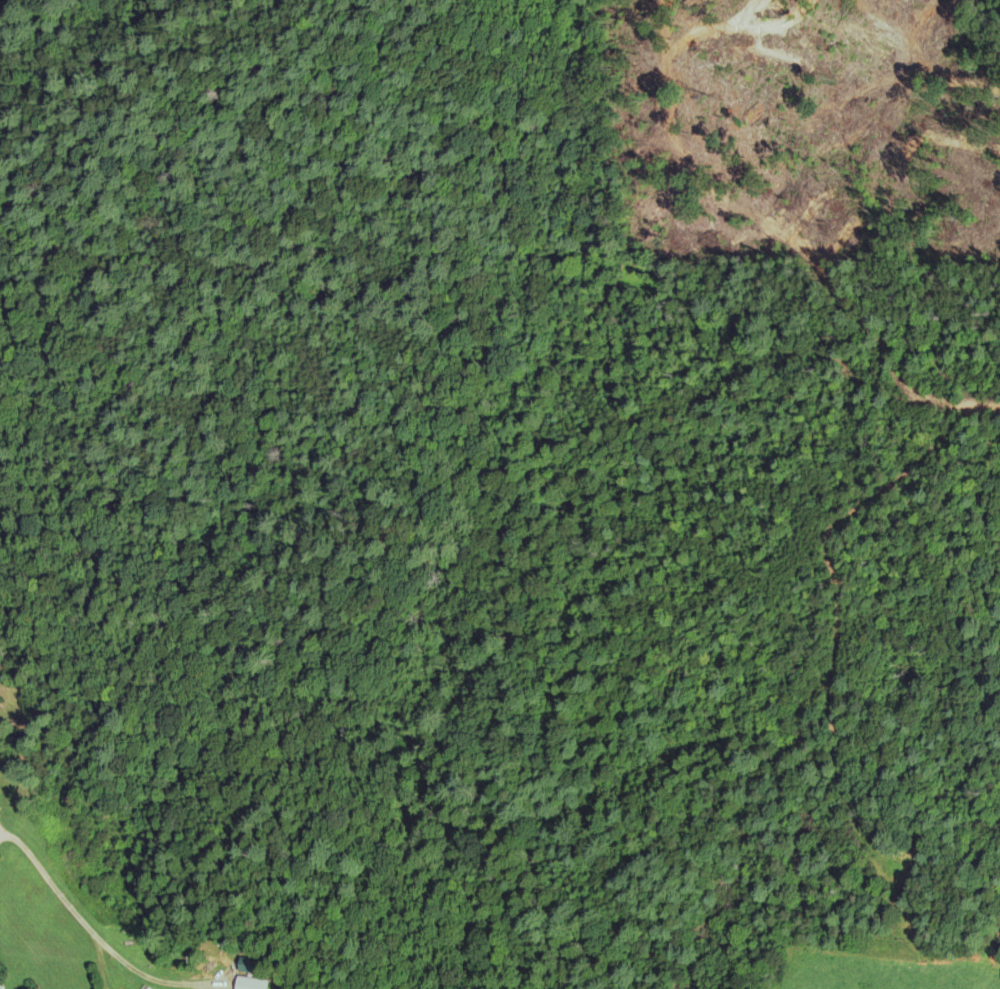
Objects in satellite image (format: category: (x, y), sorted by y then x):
road: (96, 936)
building: (249, 984)

